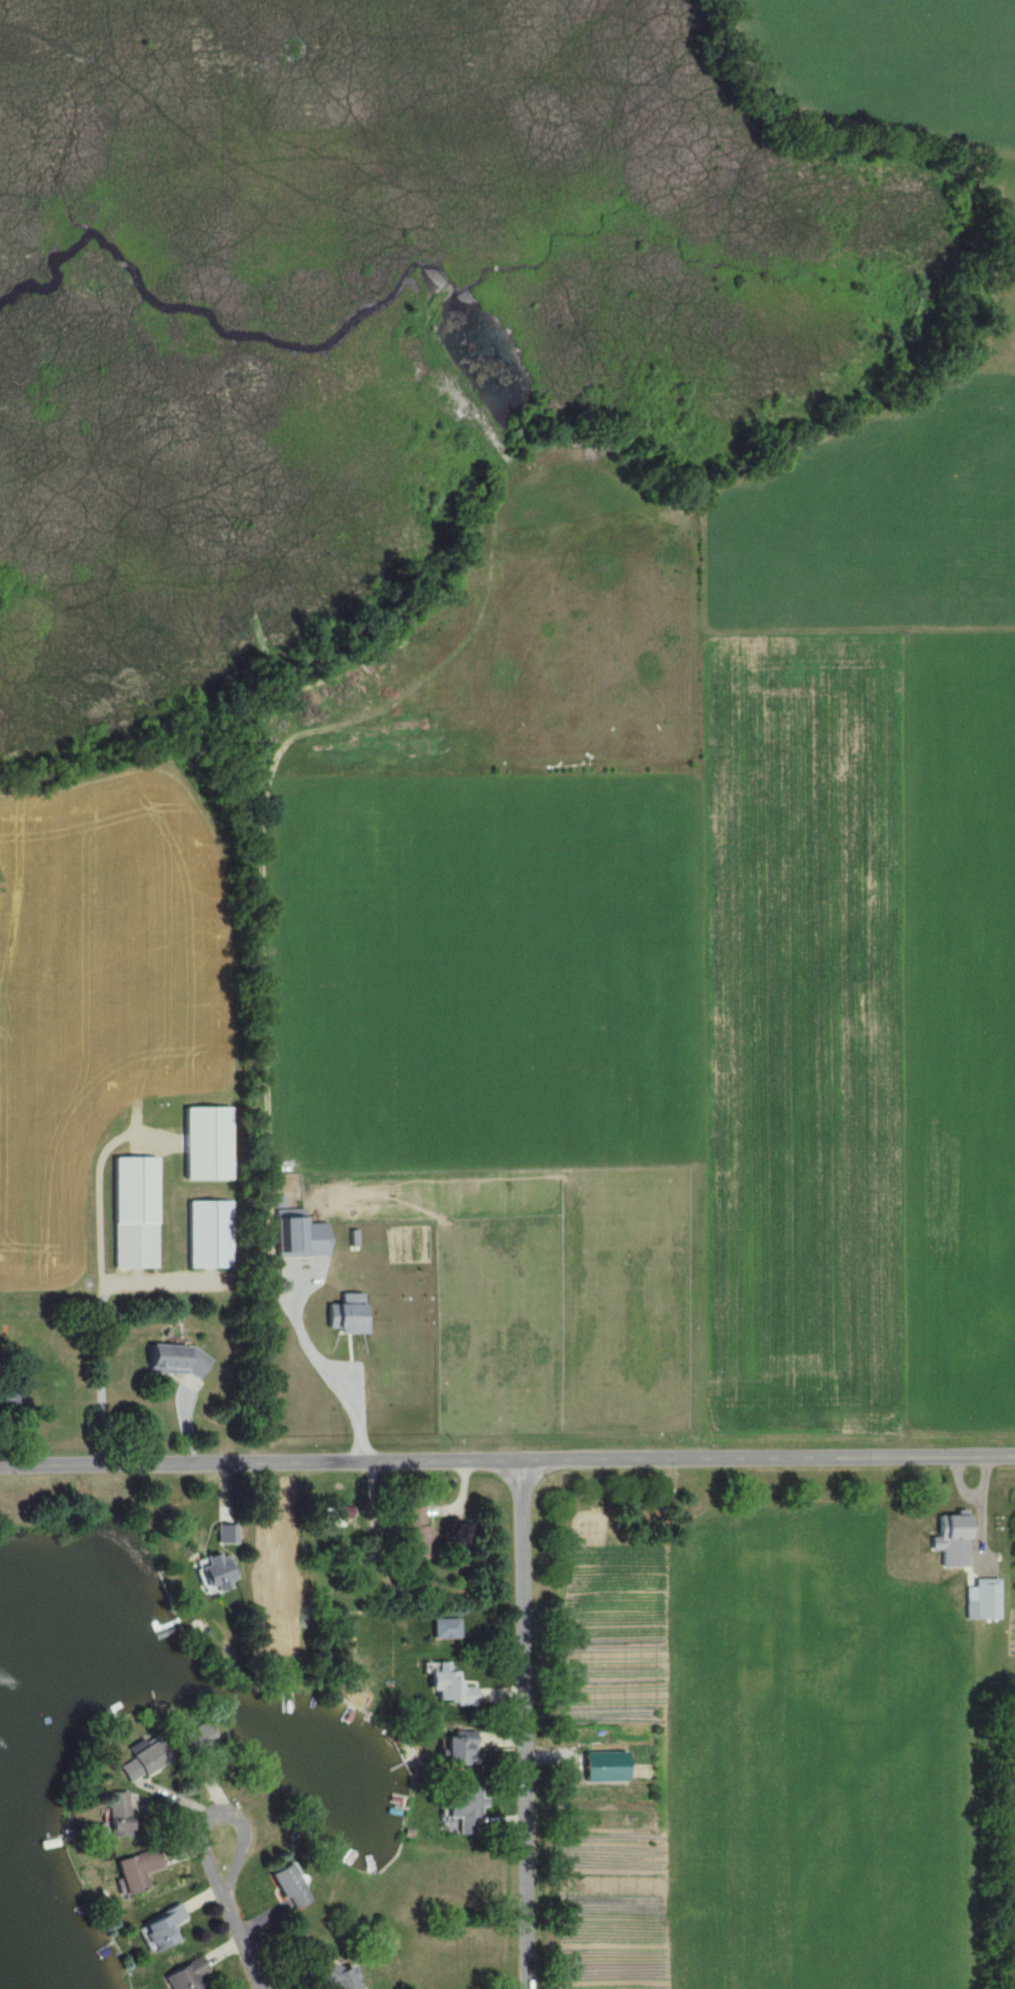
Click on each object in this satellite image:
building: (132, 1213)
building: (206, 1235)
building: (175, 1362)
road: (327, 1369)
building: (7, 1396)
road: (507, 1457)
building: (338, 1516)
building: (414, 1530)
building: (447, 1688)
road: (527, 1722)
building: (190, 1732)
building: (454, 1748)
building: (141, 1760)
building: (460, 1807)
building: (114, 1814)
road: (222, 1815)
building: (133, 1869)
building: (287, 1887)
building: (159, 1928)
road: (242, 1946)
building: (185, 1976)
building: (338, 1978)

